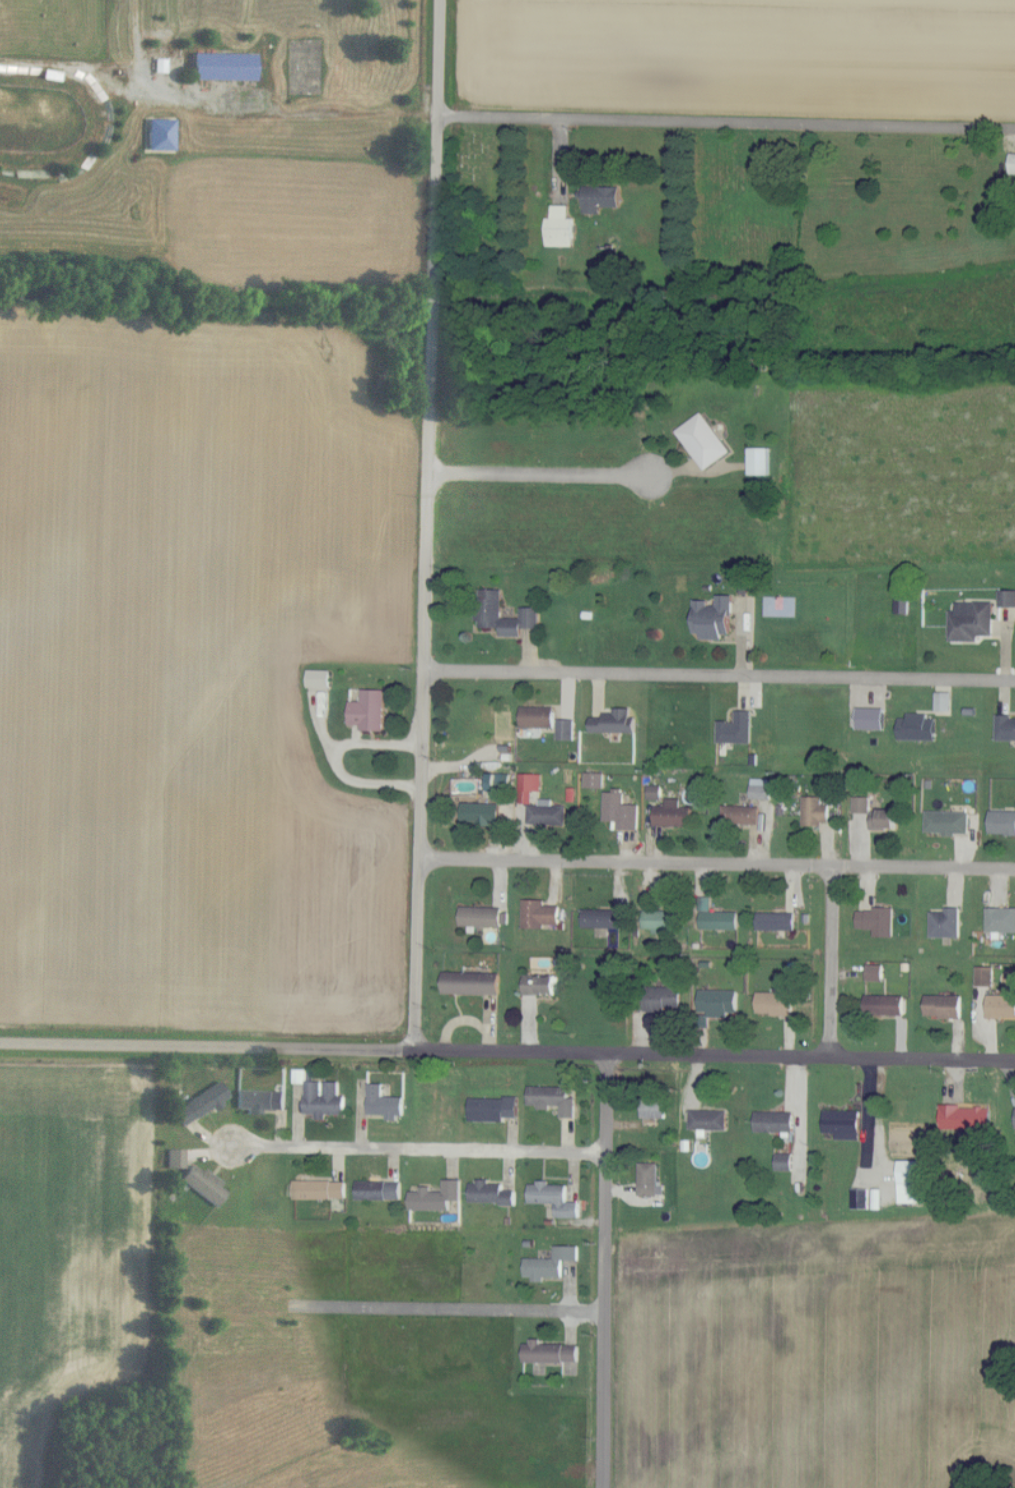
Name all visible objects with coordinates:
building: (223, 66)
road: (246, 109)
road: (726, 124)
building: (1013, 163)
building: (600, 197)
building: (560, 227)
building: (703, 441)
building: (759, 461)
road: (542, 477)
road: (426, 525)
building: (1007, 598)
building: (902, 605)
building: (489, 612)
building: (713, 618)
building: (971, 621)
building: (318, 678)
road: (719, 678)
building: (943, 701)
building: (369, 710)
building: (537, 717)
building: (870, 718)
building: (614, 721)
building: (917, 727)
building: (1005, 727)
building: (566, 729)
building: (736, 729)
road: (336, 761)
building: (594, 780)
building: (498, 782)
building: (529, 786)
building: (761, 788)
building: (655, 792)
building: (862, 805)
building: (620, 810)
building: (815, 811)
building: (480, 813)
building: (546, 813)
building: (672, 814)
building: (742, 815)
building: (883, 819)
building: (948, 822)
building: (1002, 822)
road: (716, 865)
building: (539, 914)
building: (480, 916)
building: (716, 917)
building: (601, 918)
building: (1000, 920)
building: (660, 921)
building: (776, 921)
building: (877, 921)
building: (945, 923)
road: (831, 961)
building: (875, 973)
building: (985, 976)
building: (540, 978)
building: (470, 983)
building: (663, 998)
building: (718, 1002)
building: (775, 1003)
building: (884, 1005)
building: (943, 1006)
building: (1001, 1006)
road: (206, 1046)
road: (713, 1054)
building: (299, 1076)
building: (323, 1099)
building: (552, 1099)
building: (260, 1101)
building: (201, 1103)
building: (384, 1103)
building: (654, 1108)
building: (492, 1109)
building: (965, 1118)
building: (708, 1120)
building: (774, 1122)
building: (842, 1124)
road: (420, 1149)
building: (175, 1159)
building: (784, 1162)
building: (649, 1180)
building: (912, 1182)
building: (204, 1185)
building: (319, 1190)
building: (379, 1190)
building: (490, 1193)
building: (436, 1197)
building: (554, 1198)
building: (860, 1199)
building: (550, 1264)
road: (607, 1272)
road: (418, 1310)
building: (550, 1353)
road: (436, 1463)
road: (801, 1476)

